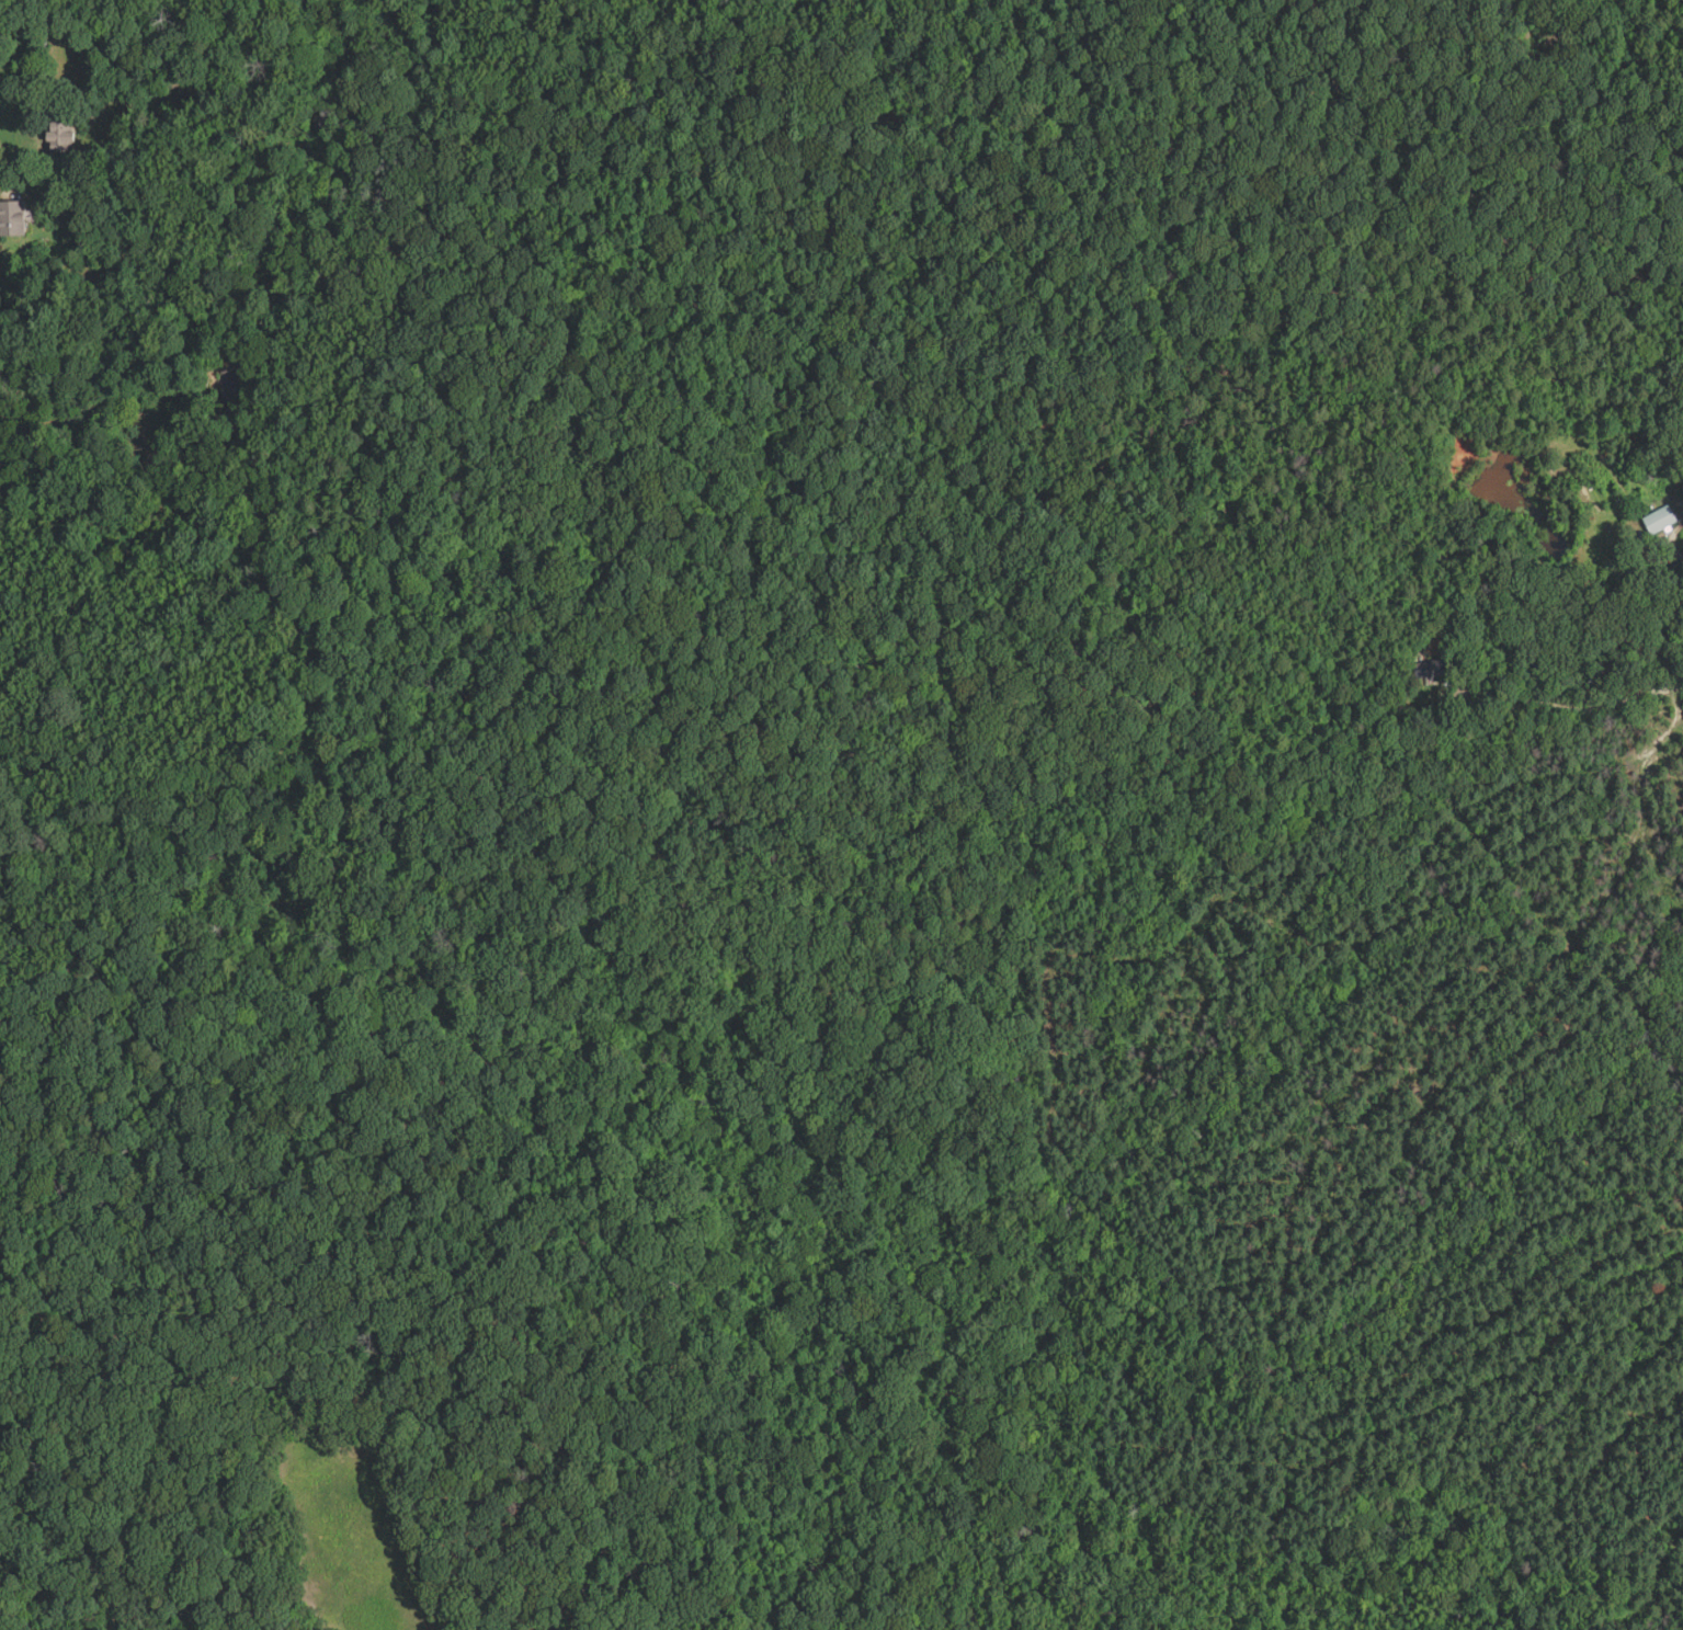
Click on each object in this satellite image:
building: (62, 136)
building: (123, 191)
building: (12, 218)
building: (1671, 465)
building: (1660, 521)
road: (1678, 551)
building: (1433, 669)
road: (1576, 707)

